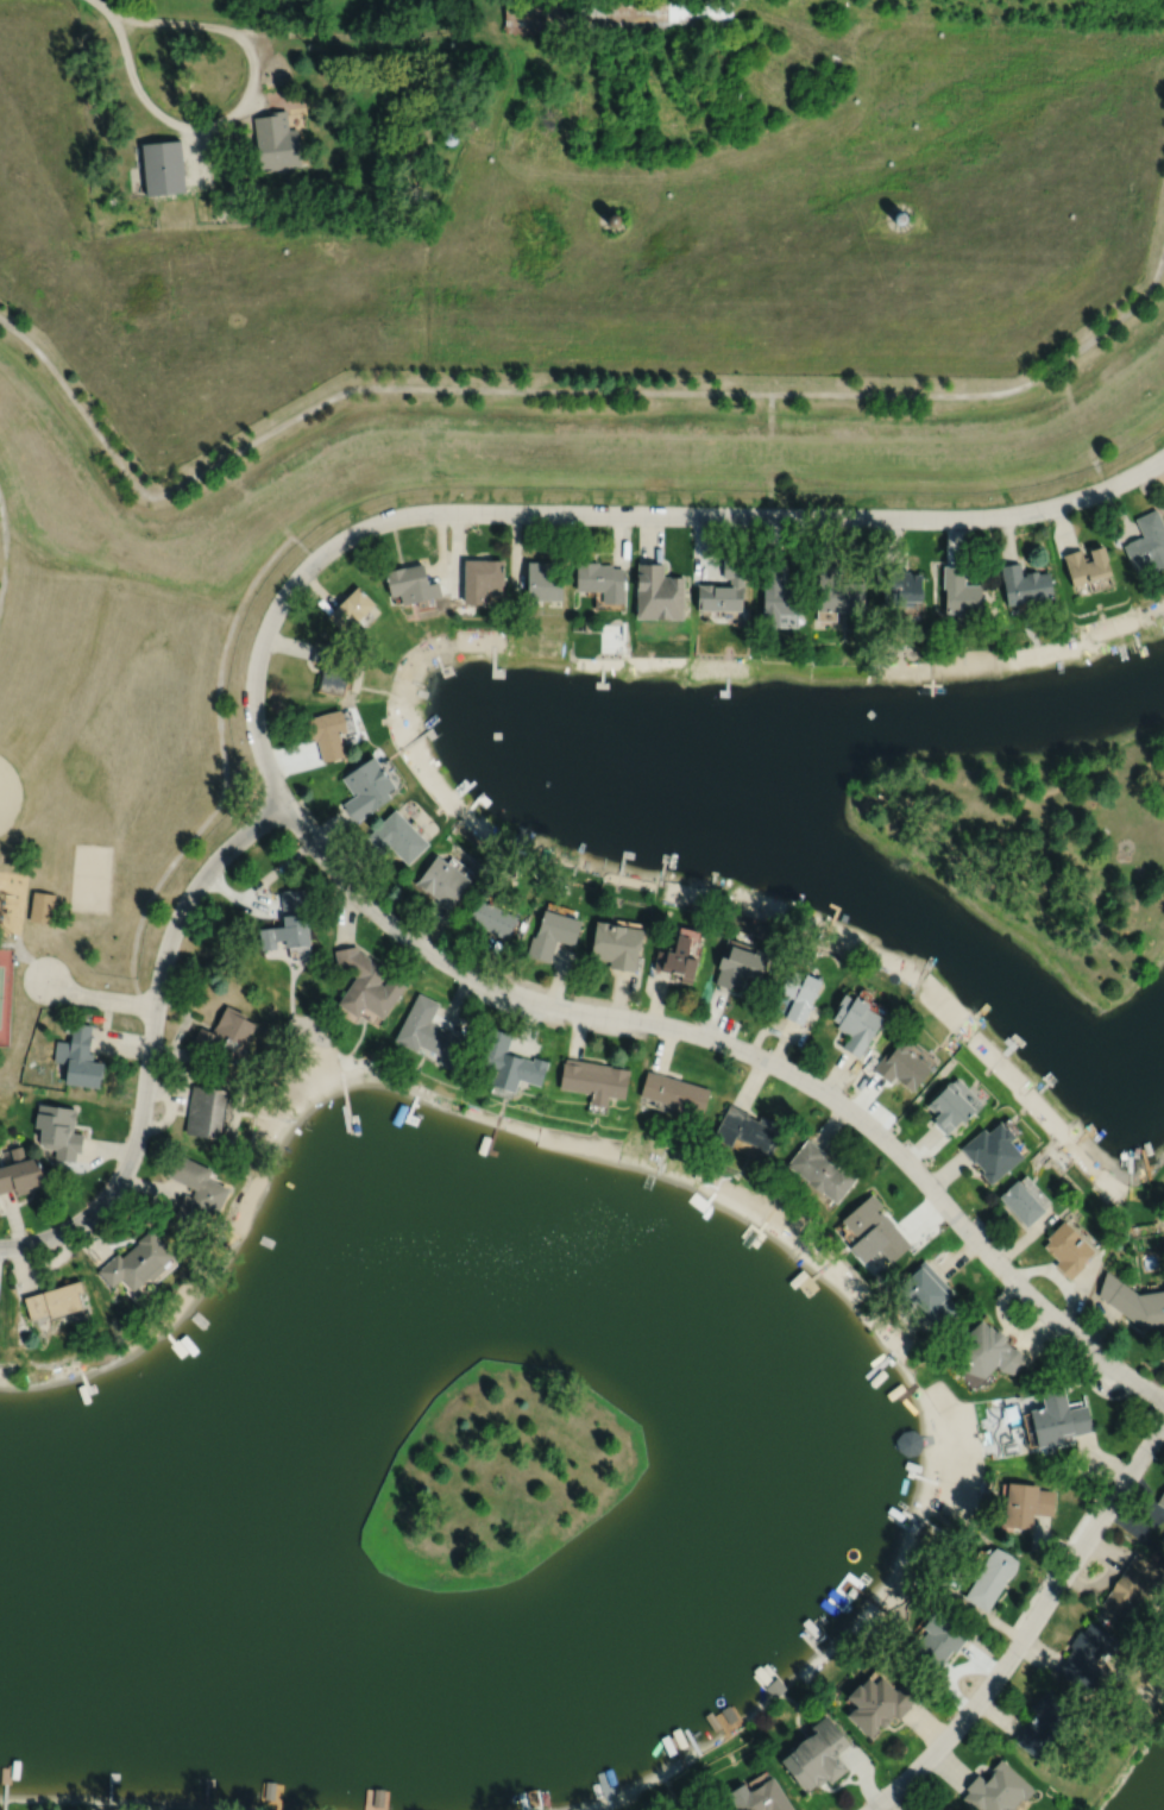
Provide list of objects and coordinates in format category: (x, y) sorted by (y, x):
road: (100, 4)
building: (618, 17)
building: (741, 24)
road: (348, 36)
road: (241, 106)
building: (449, 138)
building: (276, 143)
building: (409, 145)
building: (97, 165)
building: (163, 168)
building: (17, 177)
building: (113, 201)
building: (899, 218)
building: (612, 219)
building: (117, 312)
road: (559, 391)
road: (1080, 427)
road: (770, 455)
road: (266, 511)
street lamp: (1047, 520)
street lamp: (568, 527)
street lamp: (818, 529)
building: (1147, 541)
road: (4, 551)
building: (1086, 565)
building: (598, 576)
building: (482, 578)
building: (541, 580)
building: (410, 583)
building: (1024, 584)
building: (900, 585)
building: (724, 586)
building: (659, 591)
building: (837, 591)
building: (959, 593)
building: (778, 595)
building: (350, 609)
street lamp: (288, 614)
building: (587, 624)
building: (331, 668)
building: (327, 731)
road: (224, 772)
park: (111, 779)
road: (272, 783)
building: (370, 786)
park: (8, 794)
street lamp: (296, 794)
building: (397, 837)
park: (1043, 848)
park: (89, 878)
building: (443, 880)
road: (259, 884)
building: (40, 906)
building: (492, 919)
building: (288, 922)
building: (553, 932)
building: (616, 945)
street lamp: (442, 947)
road: (25, 955)
building: (681, 956)
building: (740, 963)
street lamp: (19, 978)
building: (366, 985)
park: (5, 991)
building: (794, 997)
road: (97, 998)
street lamp: (168, 1007)
street lamp: (638, 1007)
building: (855, 1024)
building: (428, 1032)
building: (226, 1036)
road: (150, 1041)
building: (77, 1058)
building: (508, 1063)
building: (904, 1064)
building: (593, 1081)
street lamp: (844, 1092)
building: (674, 1093)
building: (951, 1106)
building: (206, 1111)
building: (749, 1130)
building: (57, 1131)
building: (992, 1152)
building: (822, 1170)
building: (20, 1173)
building: (195, 1189)
street lamp: (121, 1198)
building: (1020, 1203)
building: (875, 1230)
building: (1068, 1247)
building: (137, 1261)
street lamp: (1013, 1262)
building: (927, 1293)
building: (56, 1297)
building: (1133, 1300)
building: (987, 1350)
building: (1058, 1418)
building: (910, 1441)
street lamp: (1154, 1456)
park: (498, 1476)
building: (1162, 1500)
building: (1026, 1503)
building: (1163, 1539)
building: (990, 1578)
building: (1132, 1585)
road: (1030, 1626)
building: (939, 1641)
building: (1087, 1655)
street lamp: (1023, 1660)
building: (880, 1704)
building: (729, 1712)
building: (1043, 1721)
building: (818, 1756)
building: (6, 1772)
building: (998, 1790)
building: (533, 1798)
building: (765, 1798)
building: (705, 1809)

